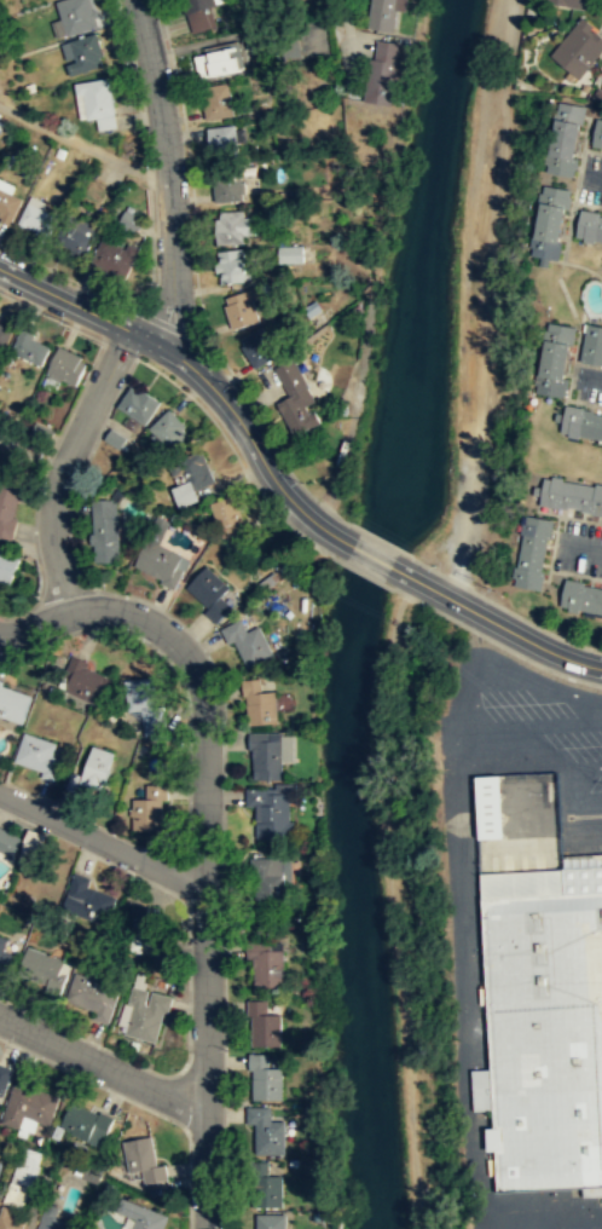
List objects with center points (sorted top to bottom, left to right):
building: (569, 2)
building: (196, 4)
building: (380, 15)
building: (73, 17)
building: (577, 46)
building: (83, 53)
building: (218, 57)
building: (380, 71)
building: (0, 83)
building: (601, 86)
building: (216, 99)
building: (97, 102)
building: (596, 131)
building: (222, 137)
building: (562, 138)
road: (166, 142)
road: (86, 146)
parking lot: (590, 178)
building: (227, 187)
building: (7, 204)
building: (37, 219)
building: (546, 219)
building: (237, 225)
building: (589, 225)
building: (76, 233)
building: (290, 253)
building: (115, 256)
building: (231, 265)
road: (58, 272)
road: (464, 298)
building: (243, 306)
building: (312, 307)
road: (155, 310)
road: (51, 316)
street lamp: (68, 322)
road: (187, 327)
building: (4, 334)
building: (591, 344)
building: (259, 346)
building: (29, 347)
street lamp: (139, 356)
building: (551, 357)
building: (66, 365)
road: (196, 371)
road: (590, 373)
parking lot: (587, 382)
street lamp: (235, 383)
building: (296, 398)
building: (134, 404)
building: (580, 421)
building: (166, 429)
building: (39, 432)
building: (111, 438)
road: (31, 454)
street lamp: (33, 457)
road: (64, 467)
building: (197, 471)
road: (39, 485)
street lamp: (306, 485)
building: (186, 495)
building: (569, 495)
building: (8, 503)
building: (230, 517)
building: (105, 530)
road: (579, 547)
parking lot: (578, 548)
building: (531, 550)
building: (158, 554)
road: (370, 555)
building: (7, 567)
building: (210, 593)
building: (580, 595)
road: (499, 625)
road: (33, 627)
building: (245, 640)
building: (86, 680)
road: (543, 686)
building: (259, 702)
building: (12, 703)
building: (145, 704)
parking lot: (544, 708)
road: (567, 723)
road: (490, 728)
building: (266, 752)
building: (39, 754)
road: (585, 767)
building: (92, 772)
building: (486, 804)
building: (149, 807)
building: (271, 809)
building: (30, 839)
road: (102, 839)
building: (6, 841)
road: (206, 872)
building: (271, 878)
building: (87, 899)
street lamp: (228, 917)
building: (143, 930)
building: (6, 953)
building: (266, 963)
building: (44, 968)
road: (462, 979)
building: (93, 993)
building: (145, 1012)
building: (264, 1023)
building: (542, 1026)
road: (103, 1064)
building: (4, 1077)
building: (265, 1077)
building: (27, 1102)
road: (137, 1104)
building: (83, 1120)
building: (266, 1130)
building: (144, 1159)
building: (0, 1162)
building: (91, 1175)
building: (22, 1177)
building: (264, 1183)
road: (554, 1211)
building: (141, 1214)
building: (48, 1218)
building: (10, 1219)
road: (505, 1219)
building: (268, 1221)
road: (560, 1221)
parking lot: (539, 1227)

